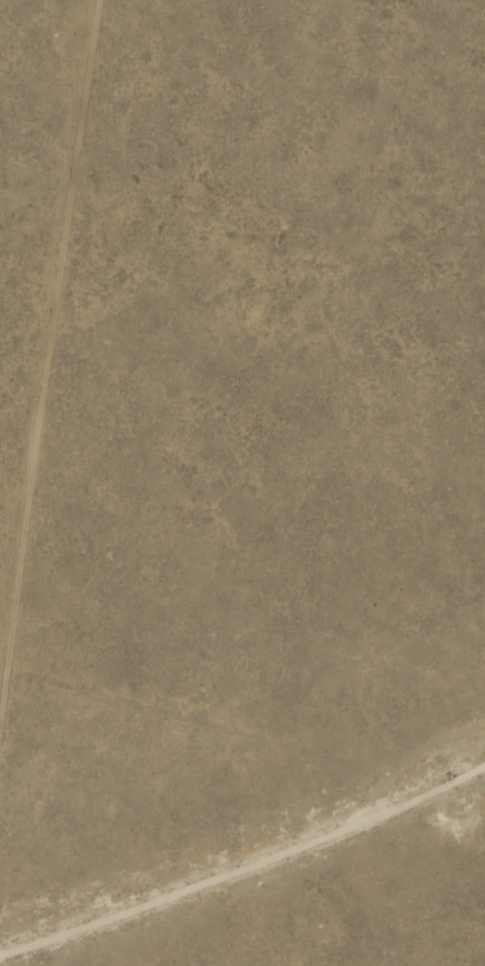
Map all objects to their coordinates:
road: (245, 860)

